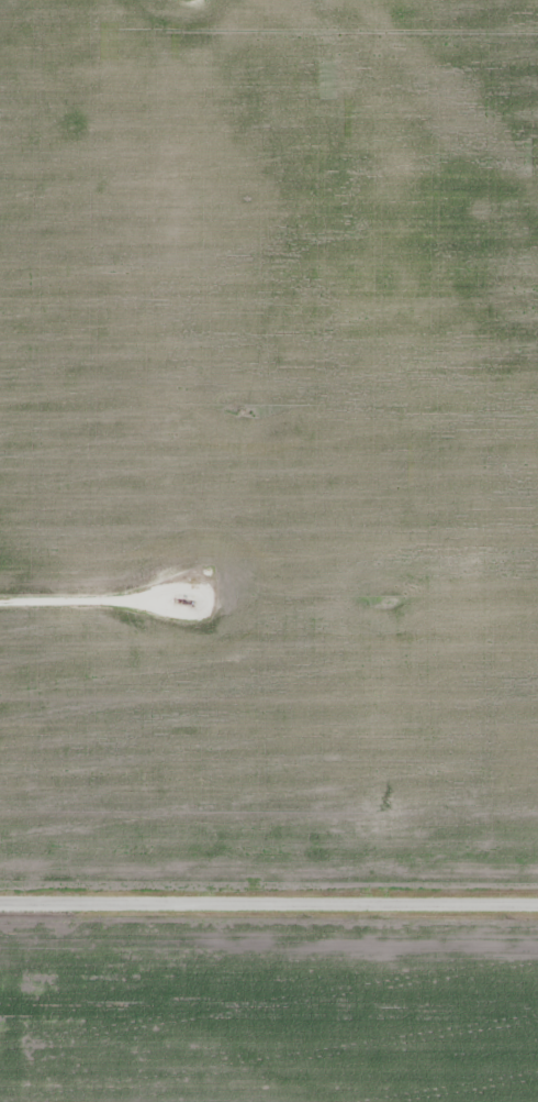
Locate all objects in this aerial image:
road: (269, 896)

